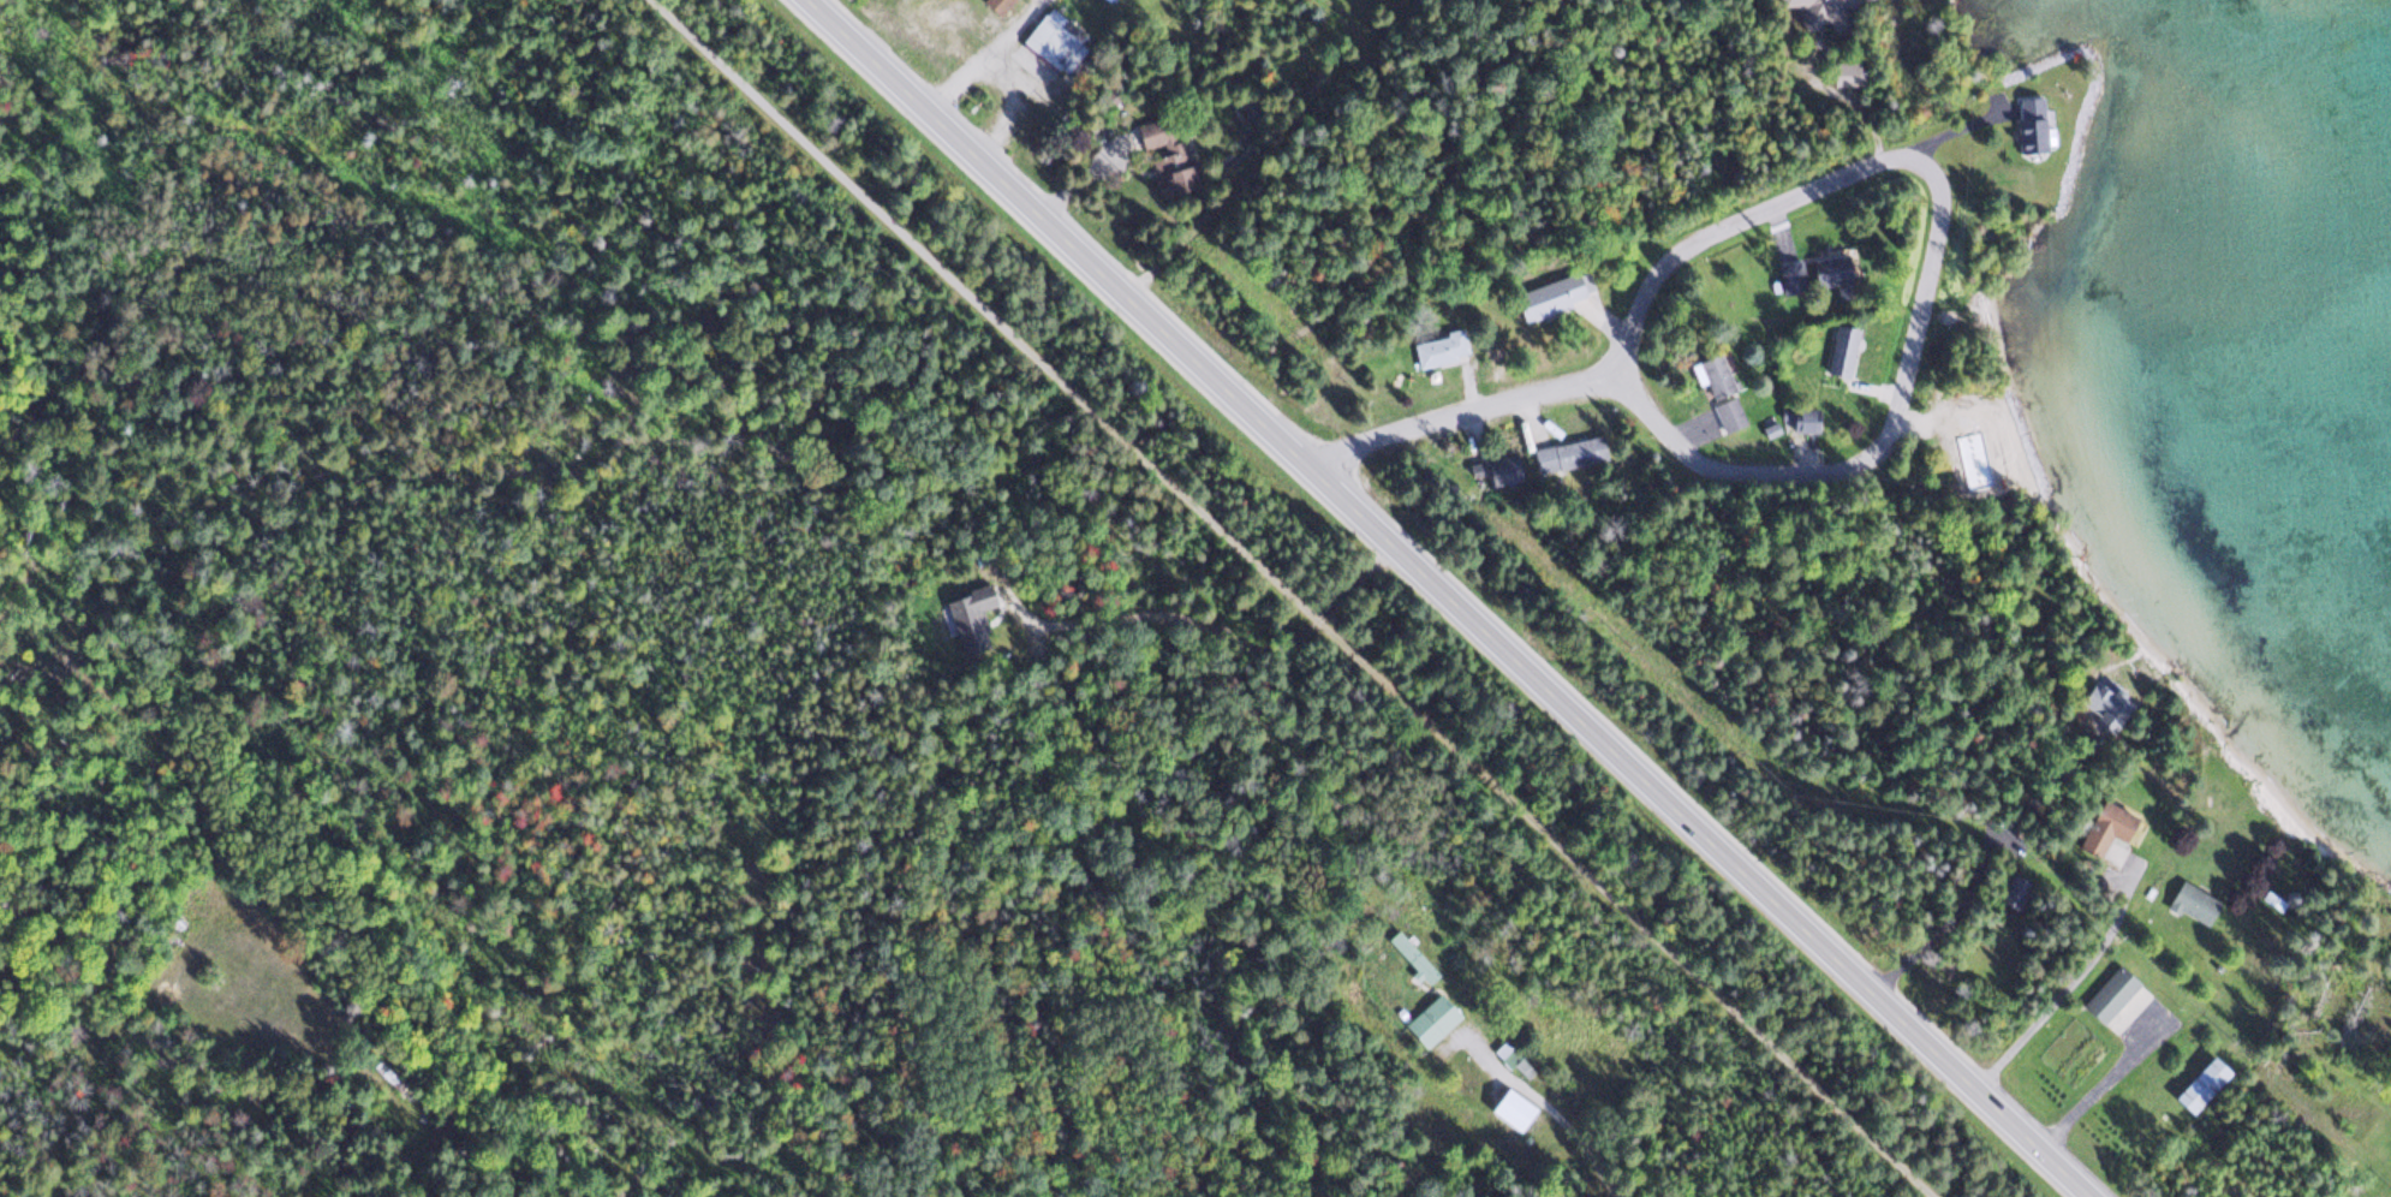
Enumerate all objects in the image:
building: (1104, 0)
building: (994, 5)
building: (1815, 13)
building: (1055, 44)
building: (2028, 123)
building: (1165, 153)
building: (1826, 270)
building: (1549, 293)
road: (1916, 318)
building: (1437, 345)
building: (1841, 346)
building: (1717, 375)
building: (1727, 413)
road: (1461, 416)
building: (1802, 417)
building: (1567, 453)
building: (1499, 469)
road: (1448, 596)
road: (1286, 598)
building: (970, 618)
building: (2106, 704)
building: (2110, 824)
building: (2011, 892)
building: (2189, 901)
building: (1409, 958)
road: (2073, 985)
building: (2107, 993)
building: (1429, 1020)
building: (1510, 1060)
road: (2106, 1082)
building: (2195, 1085)
building: (1513, 1109)
road: (1588, 1161)

